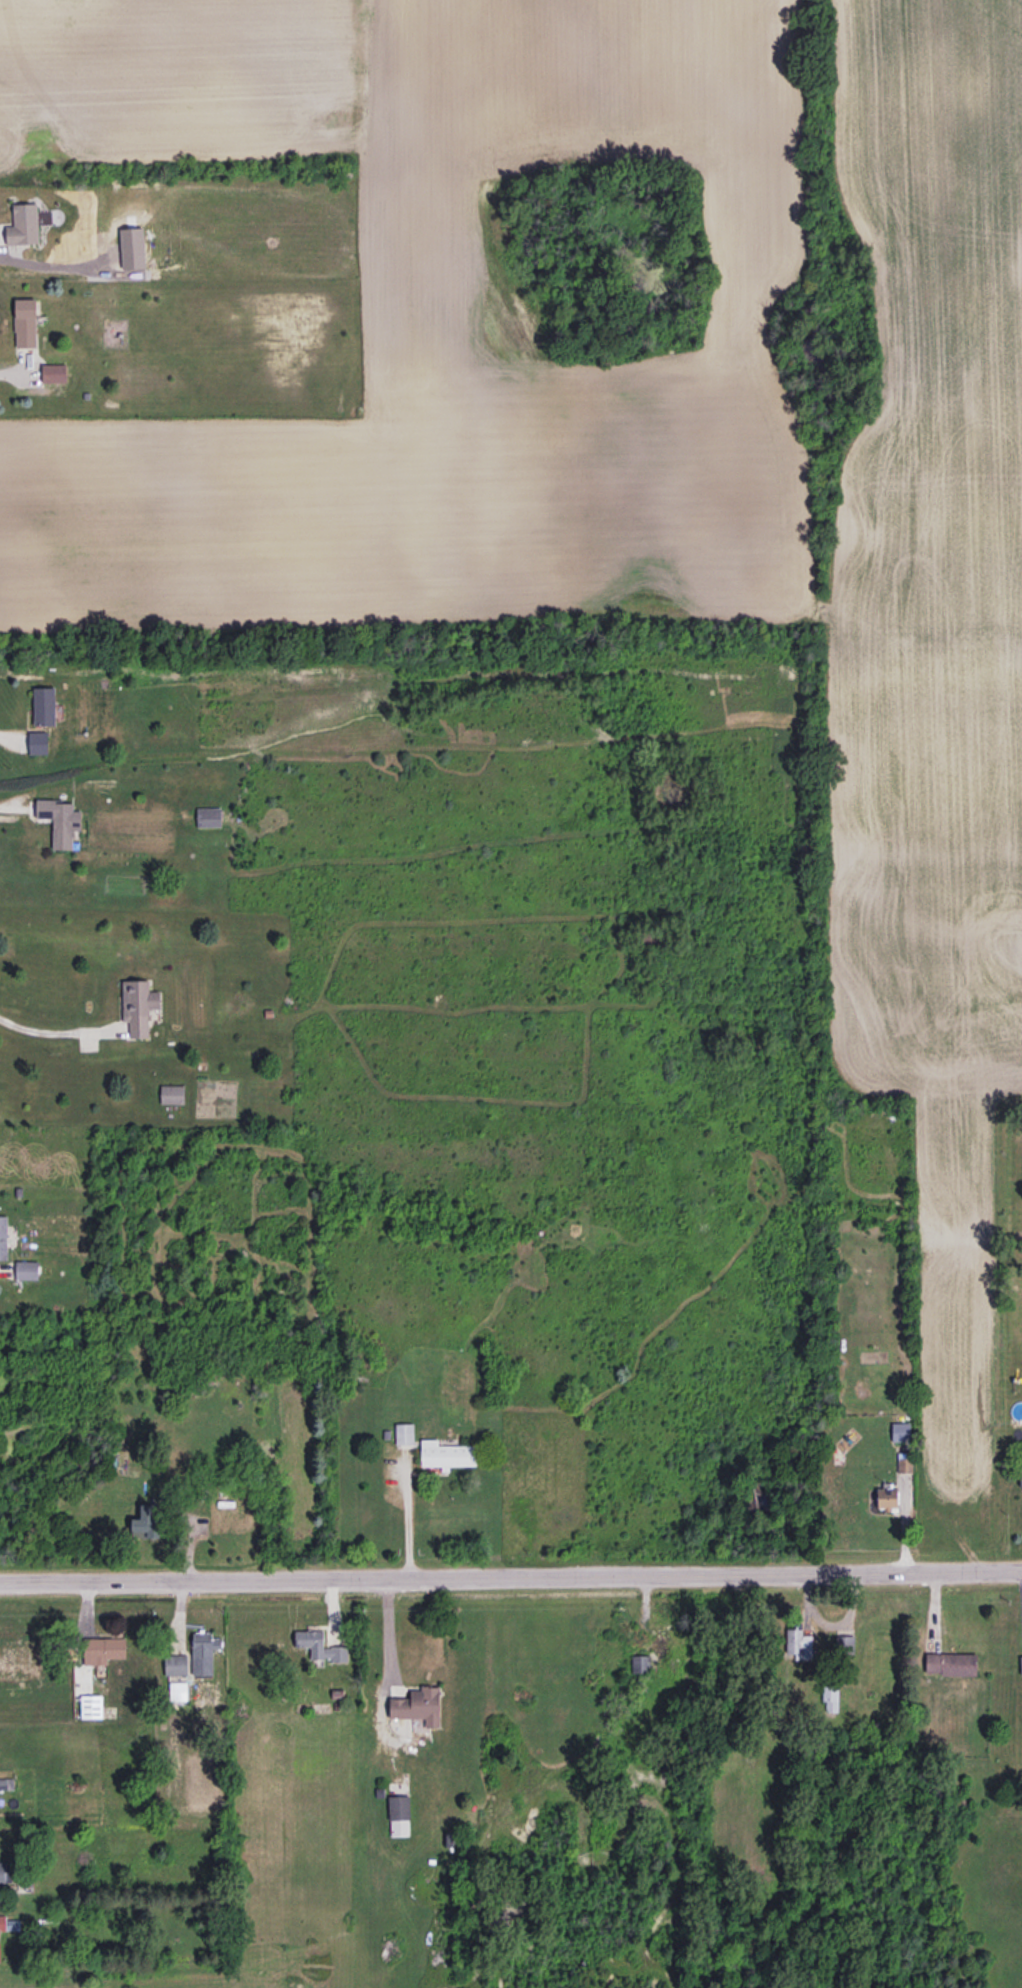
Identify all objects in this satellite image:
building: (23, 224)
building: (131, 248)
road: (12, 372)
building: (54, 372)
building: (44, 706)
road: (5, 733)
building: (38, 742)
road: (6, 806)
building: (60, 821)
road: (45, 1032)
building: (3, 1237)
building: (26, 1269)
building: (404, 1434)
building: (446, 1454)
building: (904, 1462)
building: (1021, 1477)
building: (887, 1497)
road: (405, 1515)
building: (146, 1521)
road: (511, 1575)
road: (387, 1629)
building: (798, 1643)
building: (844, 1644)
building: (319, 1645)
building: (103, 1649)
building: (203, 1652)
building: (950, 1663)
building: (1020, 1663)
building: (418, 1705)
building: (399, 1815)
building: (5, 1871)
building: (2, 1922)

